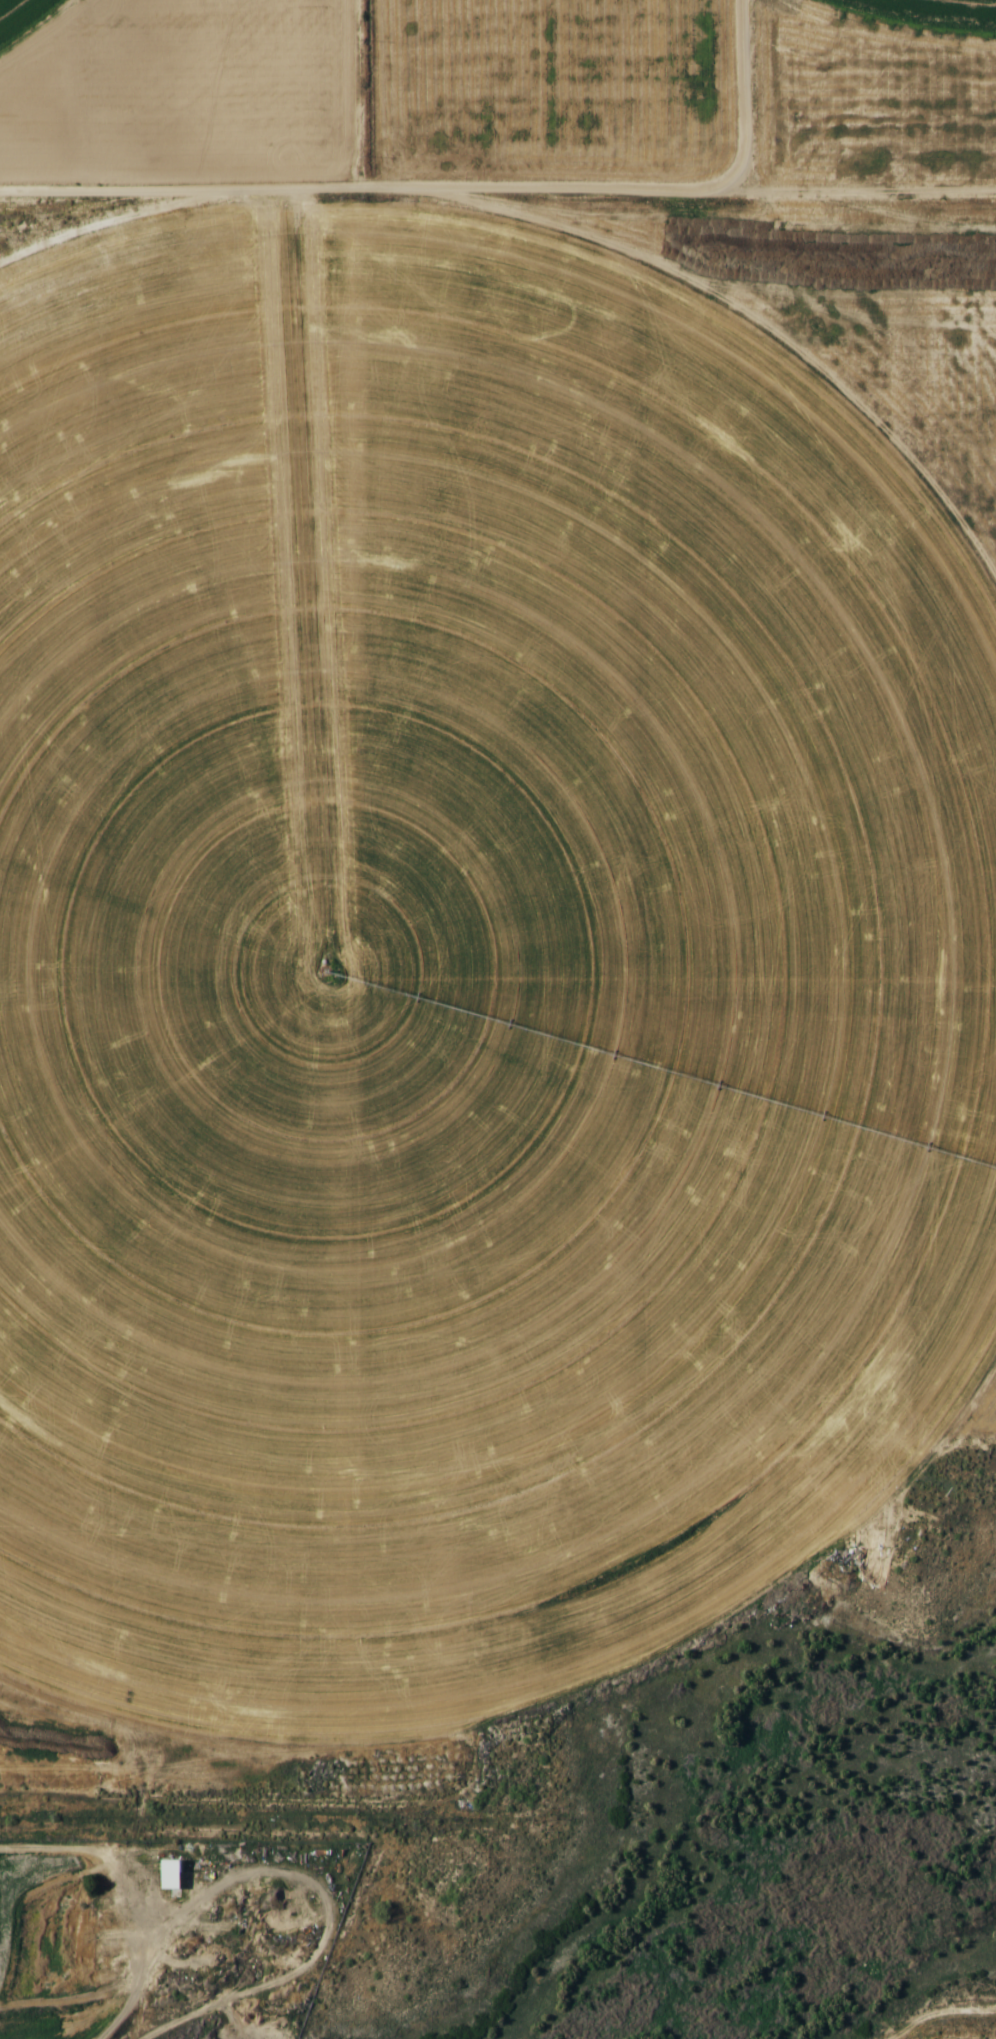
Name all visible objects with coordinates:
road: (751, 99)
road: (366, 189)
road: (863, 200)
crop: (464, 974)
building: (170, 1874)

